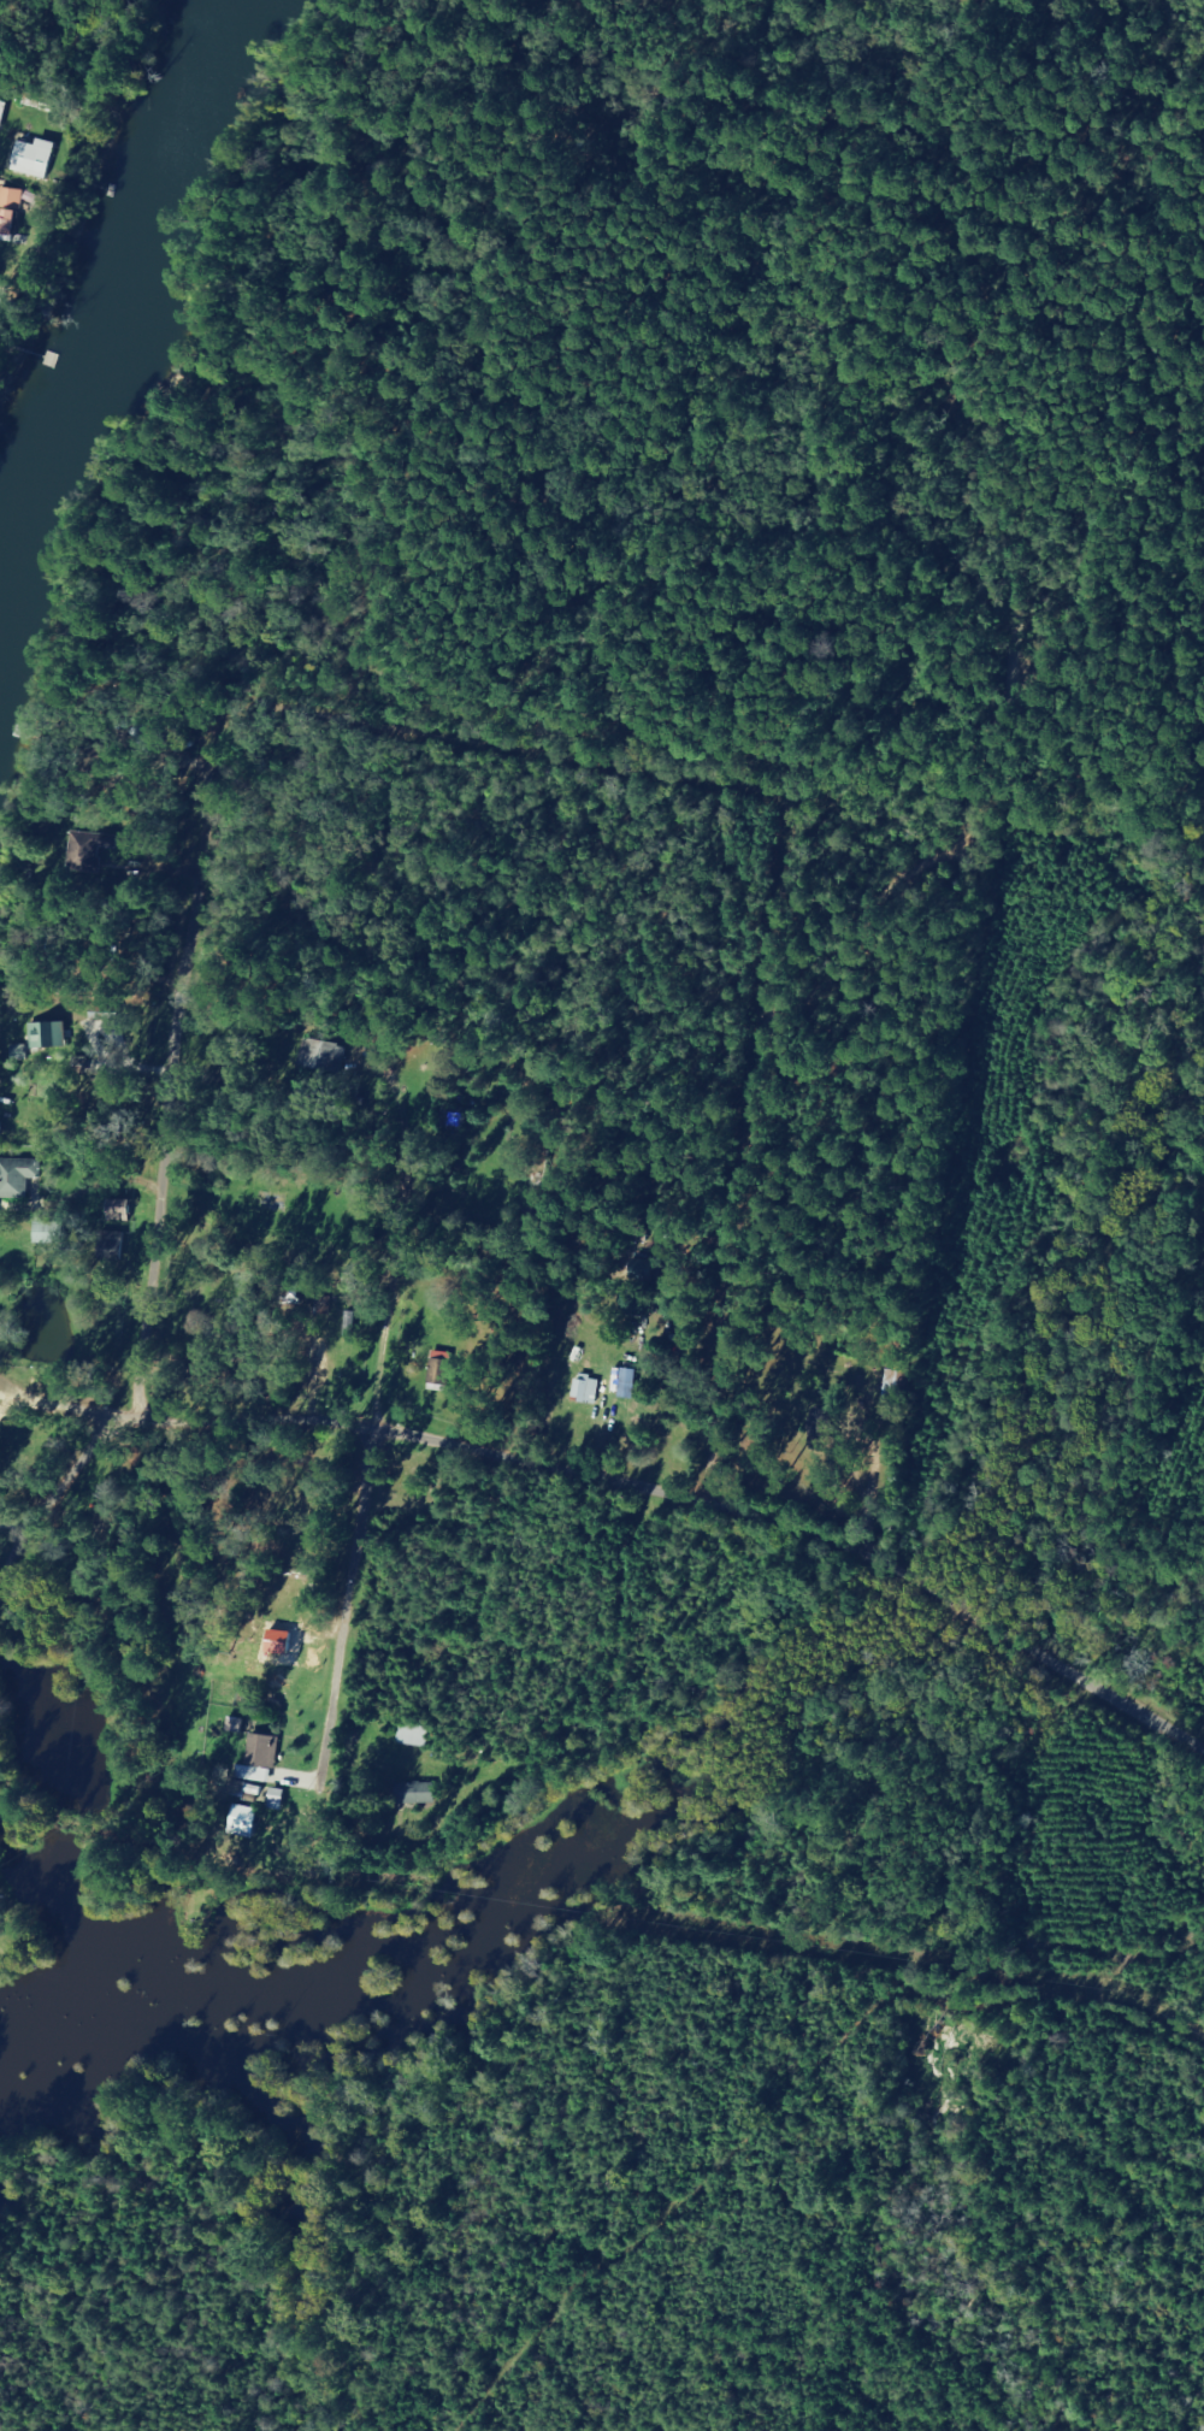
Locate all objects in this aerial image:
road: (803, 75)
road: (677, 94)
building: (33, 159)
building: (10, 210)
river: (118, 300)
road: (997, 807)
building: (57, 1034)
building: (320, 1055)
building: (24, 1176)
building: (126, 1210)
building: (58, 1233)
building: (445, 1369)
building: (591, 1389)
road: (772, 1530)
building: (415, 1736)
building: (423, 1793)
building: (283, 1799)

